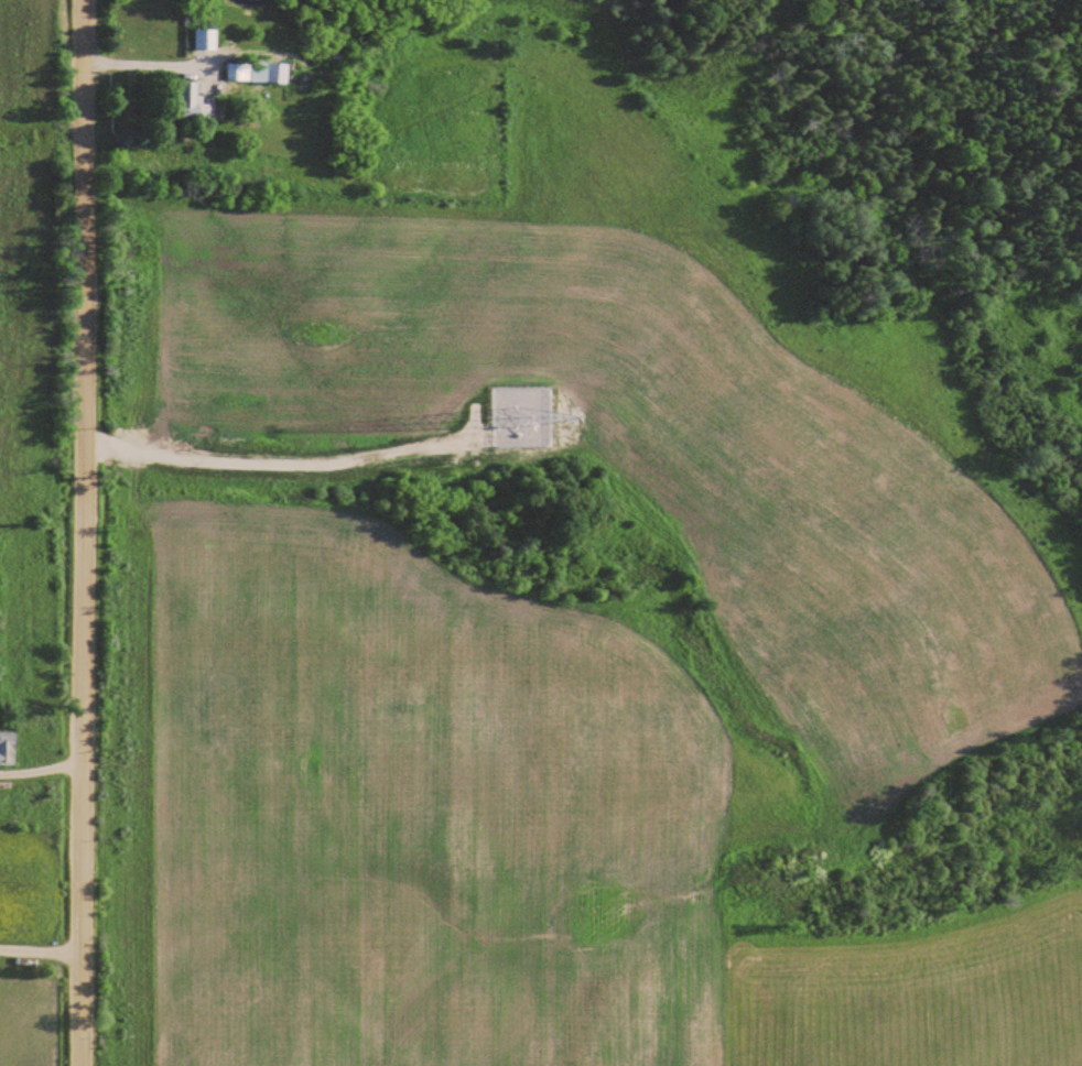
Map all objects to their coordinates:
building: (238, 70)
building: (192, 98)
road: (84, 533)
building: (8, 749)
road: (42, 991)

